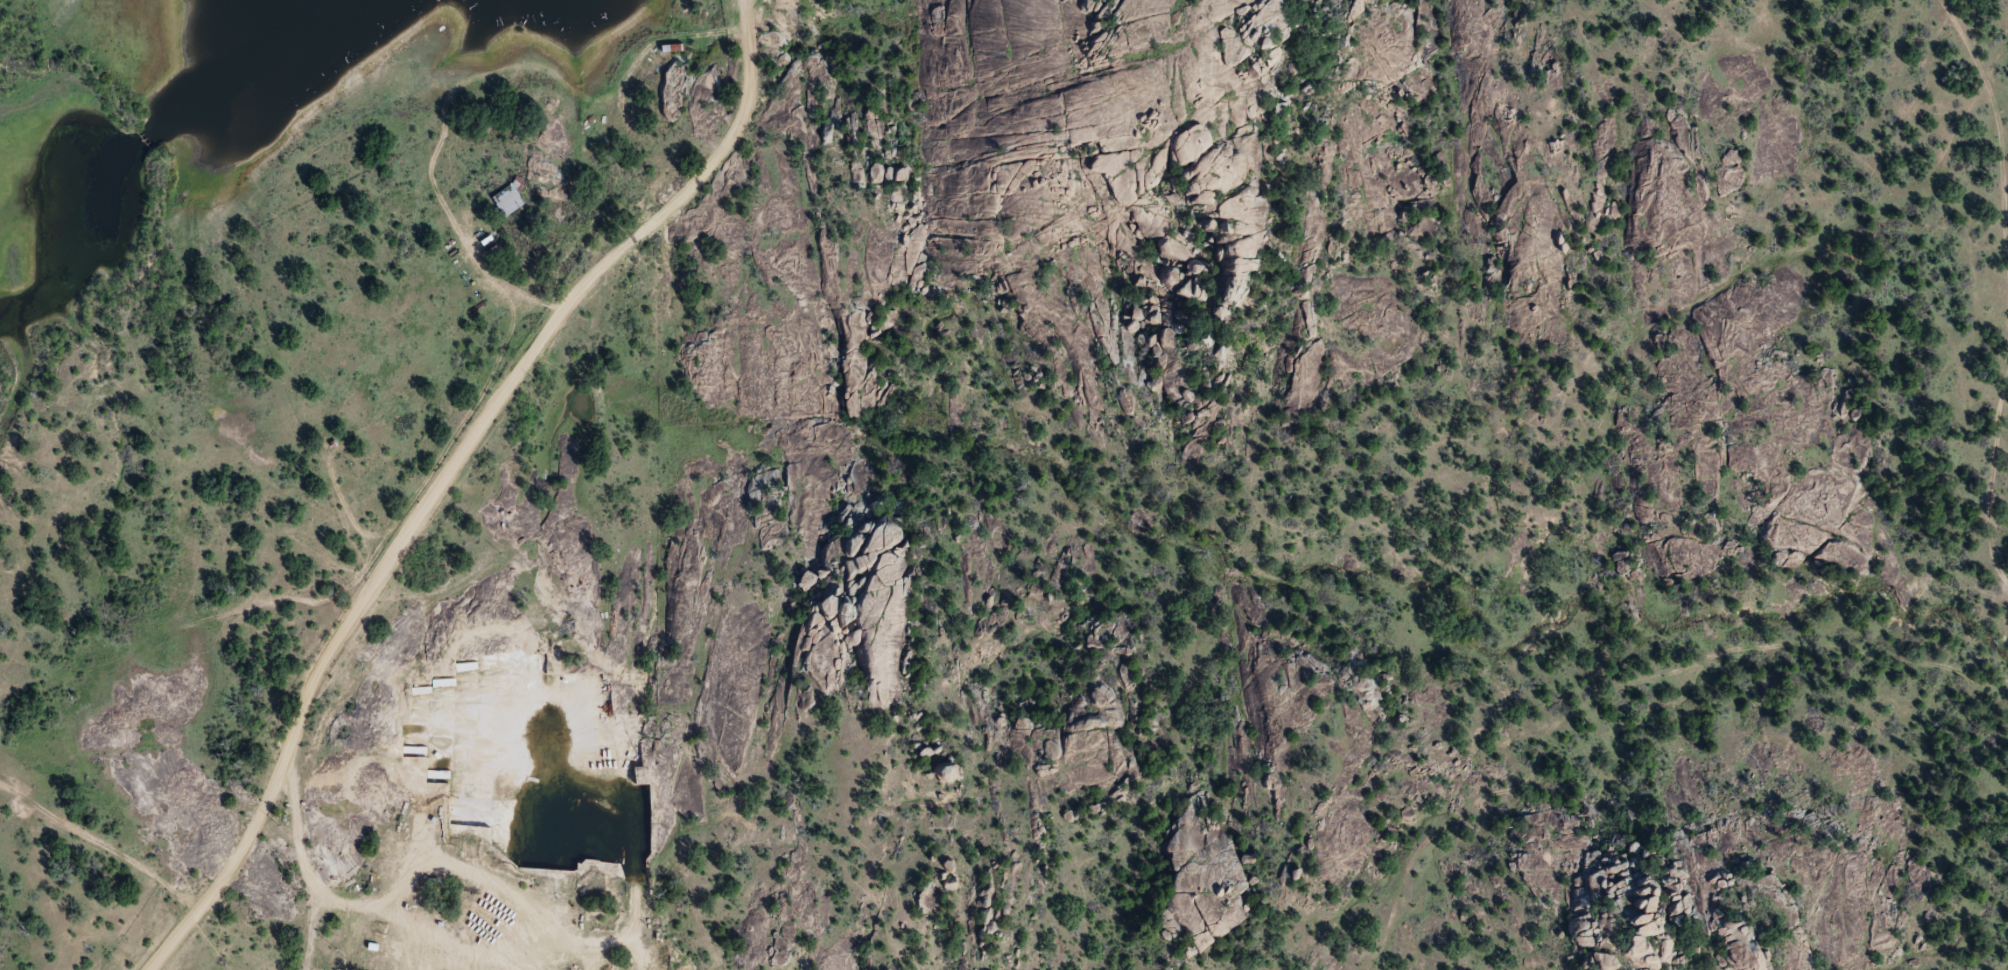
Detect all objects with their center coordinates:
building: (510, 198)
road: (448, 473)
building: (467, 730)
quarry: (516, 829)
building: (949, 885)
building: (1749, 957)

